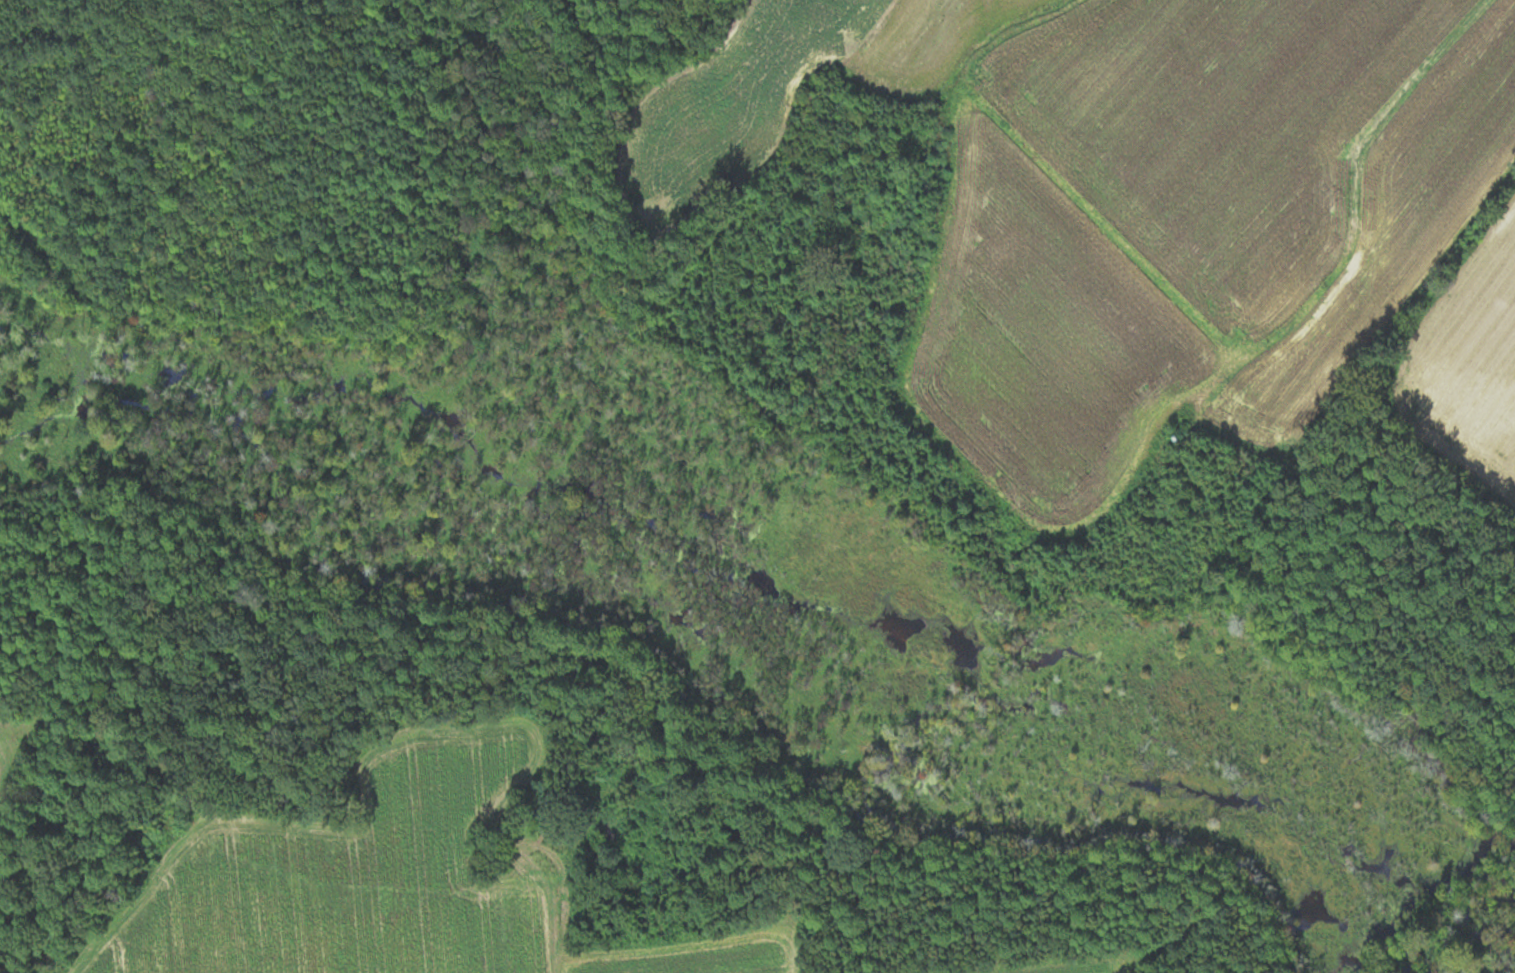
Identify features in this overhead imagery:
building: (612, 830)

